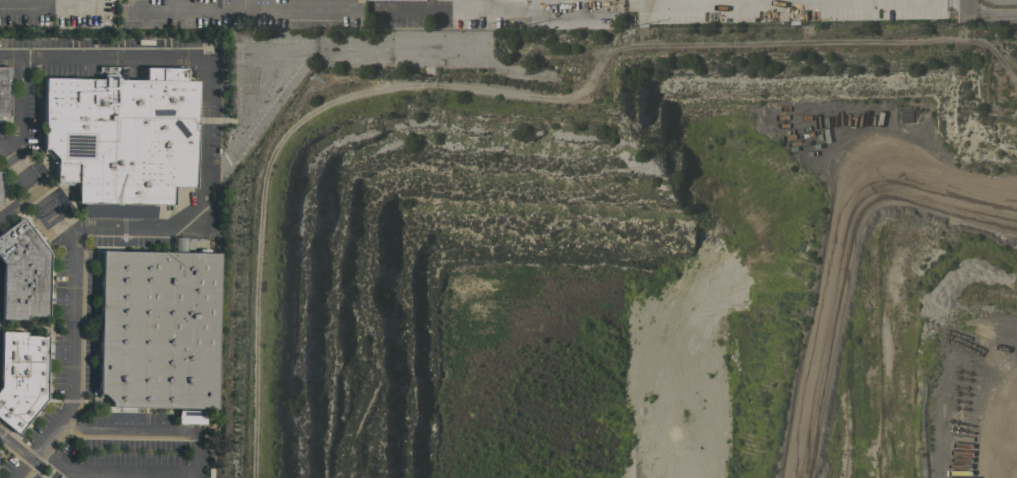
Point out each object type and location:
building: (408, 0)
road: (47, 3)
road: (481, 3)
road: (240, 5)
road: (238, 10)
road: (988, 15)
building: (4, 91)
road: (18, 106)
road: (206, 106)
building: (122, 135)
road: (272, 152)
road: (17, 202)
building: (178, 244)
quarry: (648, 266)
building: (22, 272)
road: (74, 307)
building: (158, 329)
building: (20, 376)
building: (190, 416)
road: (15, 446)
road: (192, 463)
road: (192, 473)
road: (148, 474)

